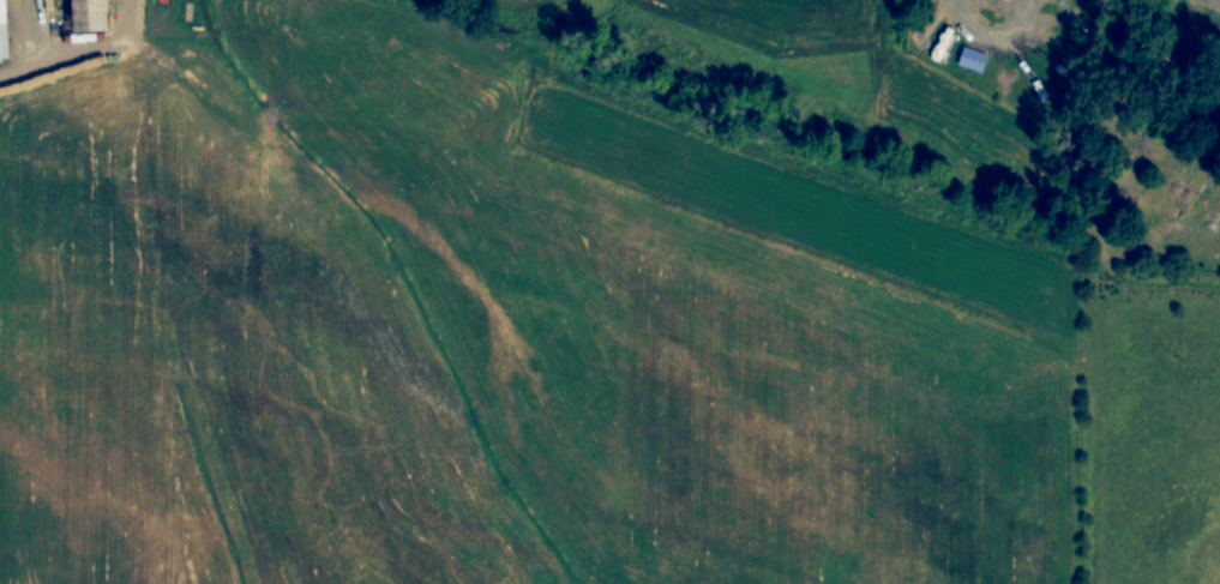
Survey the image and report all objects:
building: (84, 17)
building: (1, 34)
building: (970, 59)

